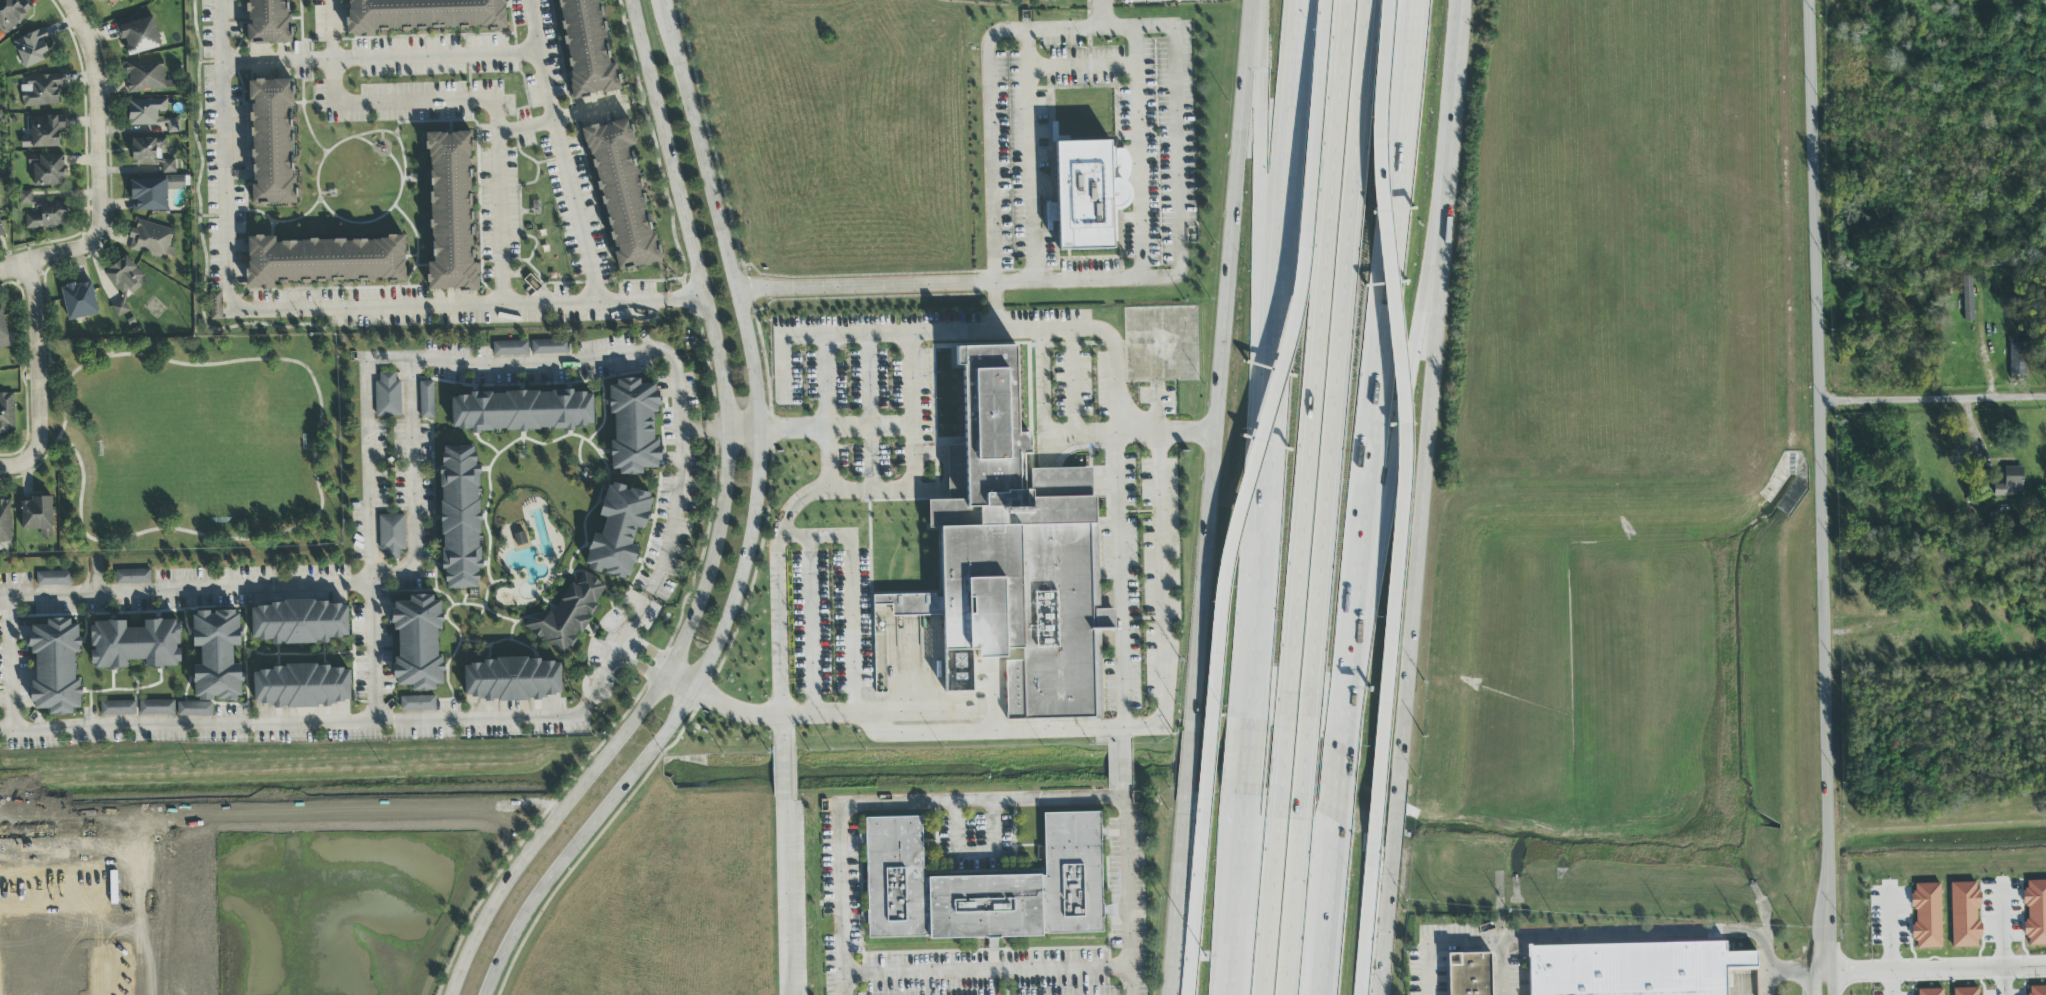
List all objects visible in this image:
building: (104, 0)
building: (119, 0)
building: (12, 14)
building: (423, 15)
building: (267, 22)
road: (331, 29)
building: (139, 36)
building: (31, 48)
building: (586, 49)
road: (380, 57)
road: (1081, 63)
road: (1457, 70)
building: (146, 77)
building: (41, 91)
road: (989, 106)
road: (490, 110)
building: (145, 111)
road: (99, 114)
building: (173, 126)
road: (526, 126)
building: (272, 141)
road: (562, 152)
building: (150, 154)
road: (1028, 157)
road: (1177, 158)
building: (48, 171)
building: (176, 183)
building: (621, 193)
building: (1090, 193)
building: (149, 195)
building: (25, 197)
building: (451, 212)
building: (47, 216)
building: (1, 233)
building: (151, 240)
road: (1262, 253)
road: (52, 260)
building: (323, 261)
road: (1091, 281)
building: (123, 282)
building: (1967, 299)
building: (79, 301)
road: (685, 301)
building: (215, 306)
road: (296, 310)
road: (1382, 325)
building: (3, 332)
road: (862, 333)
building: (549, 347)
building: (510, 348)
road: (1112, 351)
road: (1222, 355)
road: (1280, 360)
building: (2017, 360)
road: (35, 361)
road: (49, 363)
road: (1314, 364)
road: (1332, 364)
road: (913, 379)
road: (1072, 381)
parking lot: (875, 393)
building: (387, 396)
road: (1404, 396)
road: (1932, 398)
building: (426, 400)
building: (521, 411)
building: (6, 413)
road: (1042, 416)
road: (1820, 425)
building: (633, 426)
road: (745, 429)
road: (914, 454)
road: (1426, 456)
road: (1811, 458)
road: (363, 461)
road: (20, 469)
road: (1252, 481)
road: (1406, 481)
building: (2010, 483)
road: (317, 484)
parking lot: (1122, 498)
building: (36, 514)
building: (459, 517)
building: (5, 523)
road: (781, 530)
building: (618, 531)
road: (720, 531)
road: (755, 531)
road: (829, 535)
building: (391, 536)
road: (796, 536)
road: (665, 538)
building: (520, 541)
building: (1014, 551)
building: (133, 577)
building: (53, 579)
road: (308, 586)
road: (1162, 598)
building: (567, 614)
parking lot: (835, 622)
building: (299, 623)
building: (418, 642)
building: (135, 644)
road: (617, 648)
road: (649, 652)
building: (216, 656)
road: (6, 664)
building: (55, 667)
road: (636, 671)
building: (512, 680)
building: (302, 686)
road: (679, 686)
road: (1343, 693)
building: (417, 703)
building: (117, 708)
building: (156, 708)
building: (194, 709)
road: (185, 727)
road: (1052, 730)
road: (781, 732)
road: (1123, 738)
road: (1187, 757)
road: (1245, 758)
road: (1122, 765)
road: (783, 771)
road: (1281, 774)
road: (1304, 774)
road: (1336, 777)
road: (1122, 791)
road: (1079, 799)
road: (1396, 812)
road: (533, 829)
road: (975, 851)
building: (985, 886)
road: (787, 894)
road: (1235, 896)
road: (1175, 900)
road: (840, 901)
road: (1270, 906)
road: (1325, 906)
road: (1293, 907)
building: (2035, 912)
building: (1964, 915)
building: (1926, 916)
road: (1818, 922)
road: (1829, 922)
road: (1387, 924)
road: (1620, 932)
road: (1431, 965)
road: (1509, 965)
building: (1627, 967)
road: (1779, 968)
parking lot: (1002, 969)
road: (2023, 970)
road: (986, 971)
building: (1469, 974)
road: (1916, 974)
road: (1361, 978)
road: (1187, 980)
road: (2001, 983)
road: (1889, 985)
building: (2037, 990)
building: (1965, 991)
building: (1928, 992)

